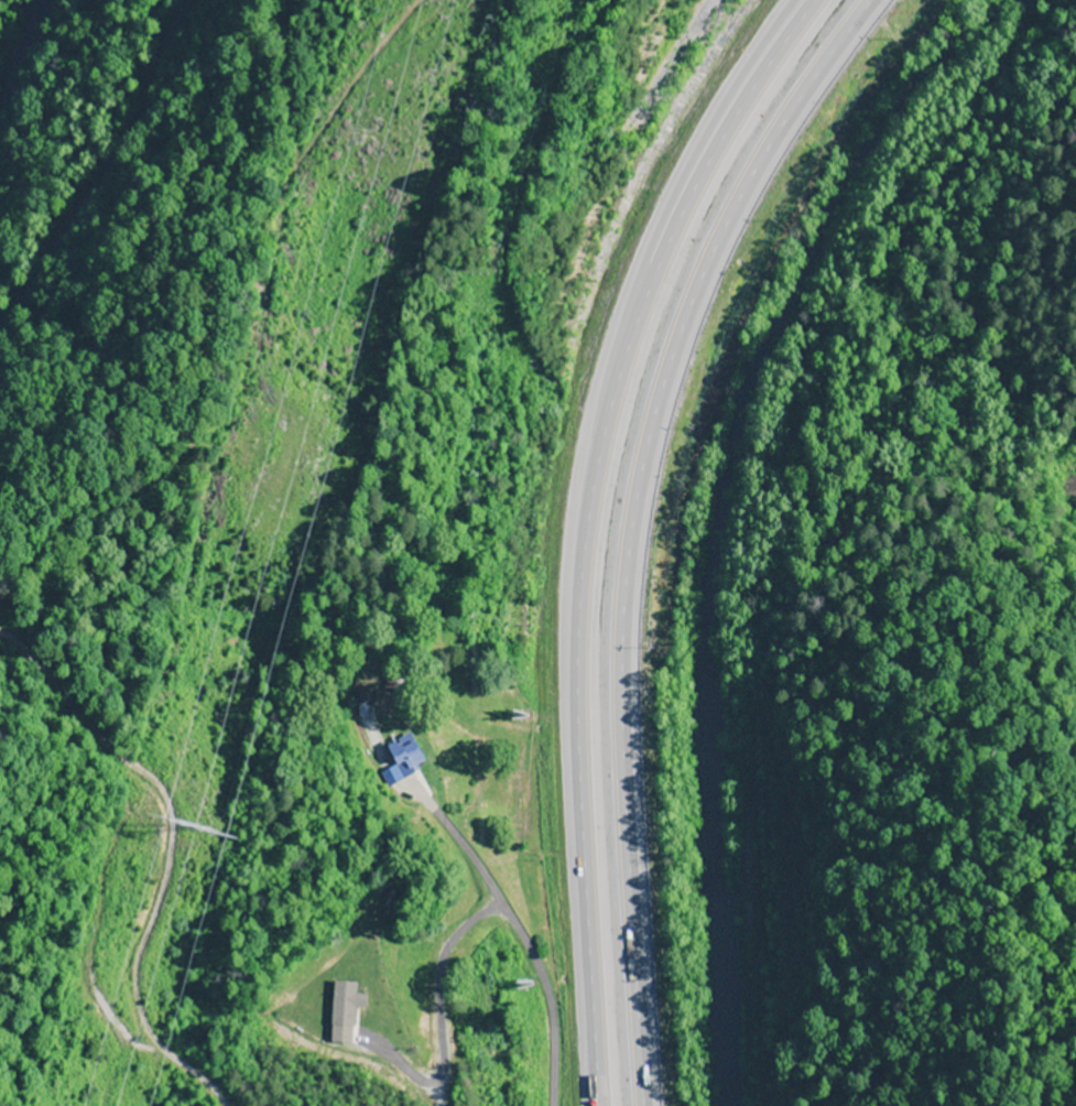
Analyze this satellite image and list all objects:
river: (31, 58)
road: (140, 167)
road: (630, 522)
road: (585, 527)
power tower: (202, 852)
building: (329, 1012)

